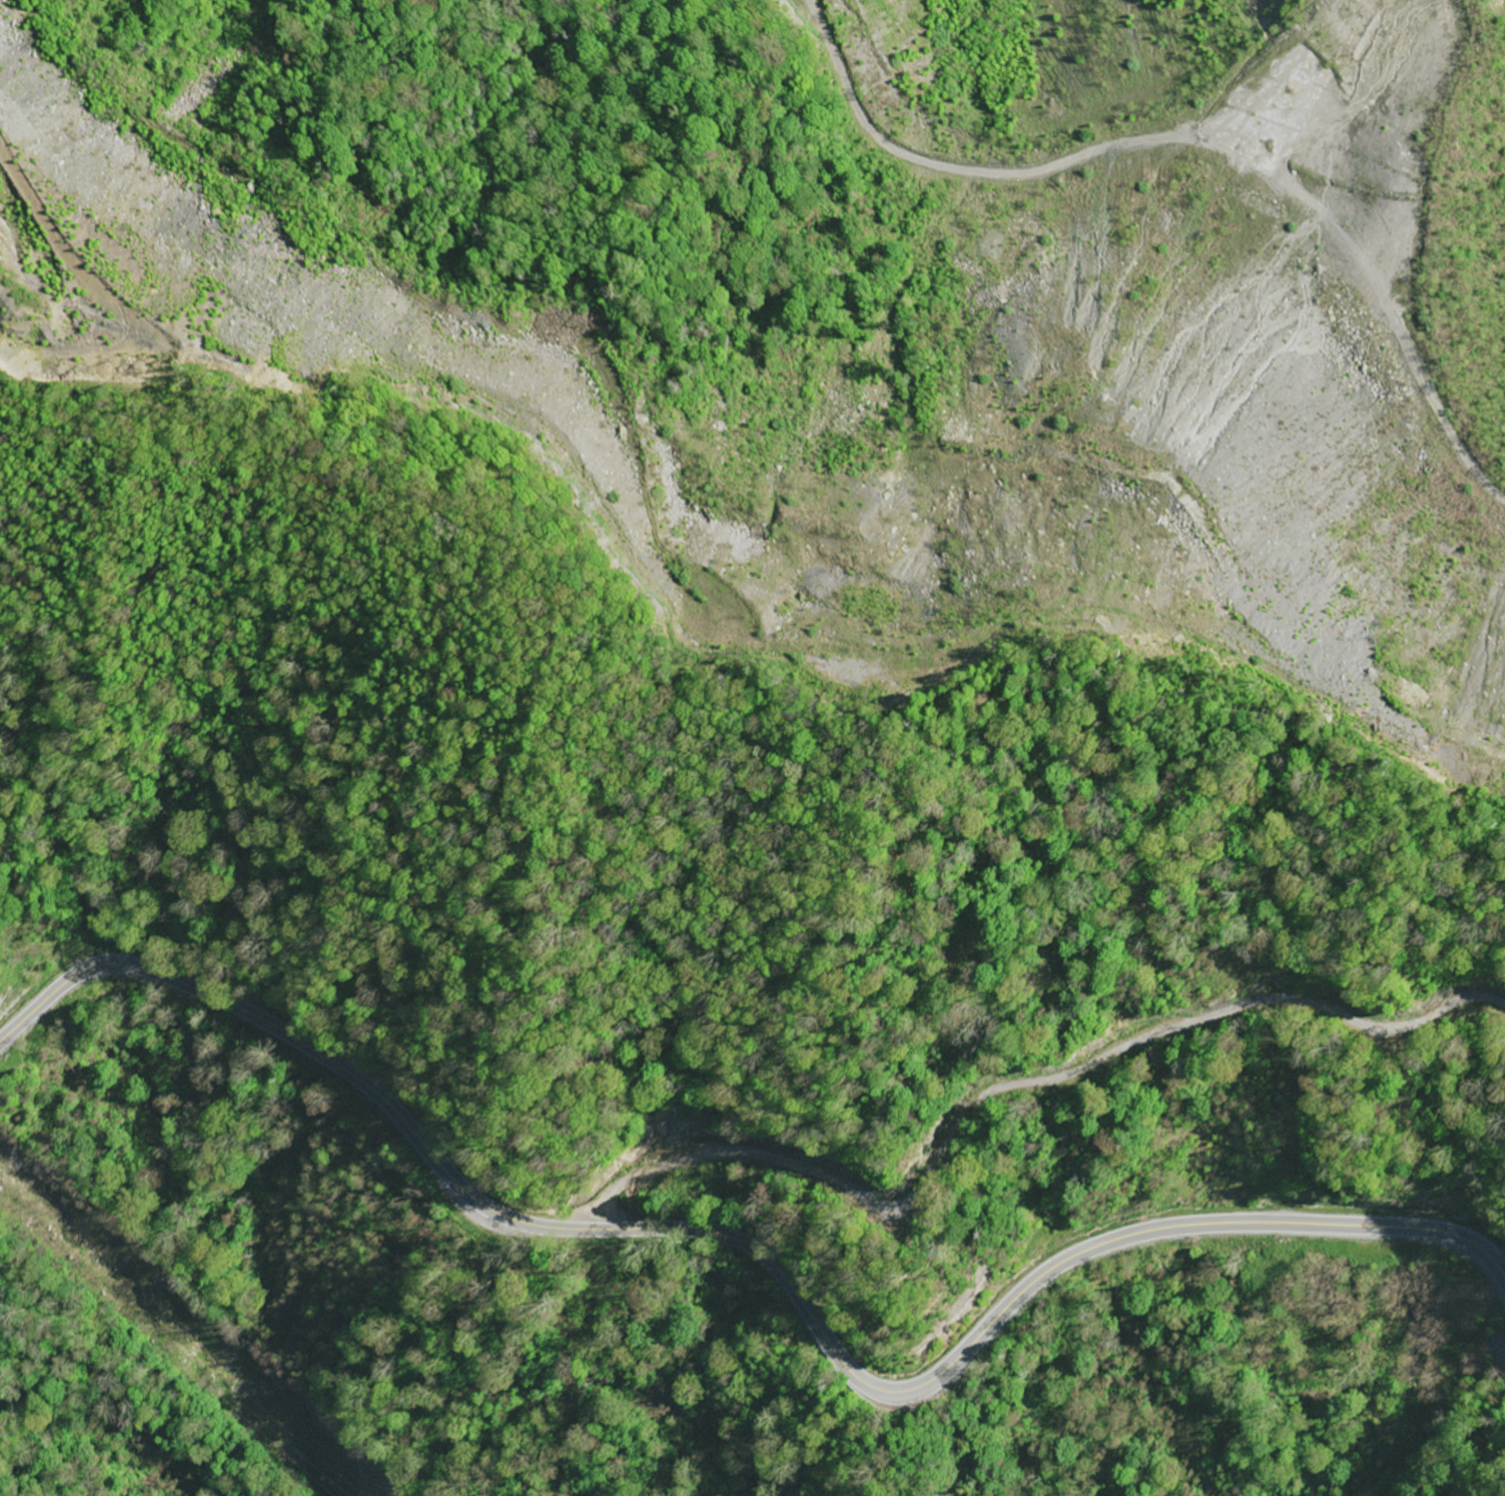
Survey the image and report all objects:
road: (1320, 24)
road: (350, 316)
road: (763, 1254)

